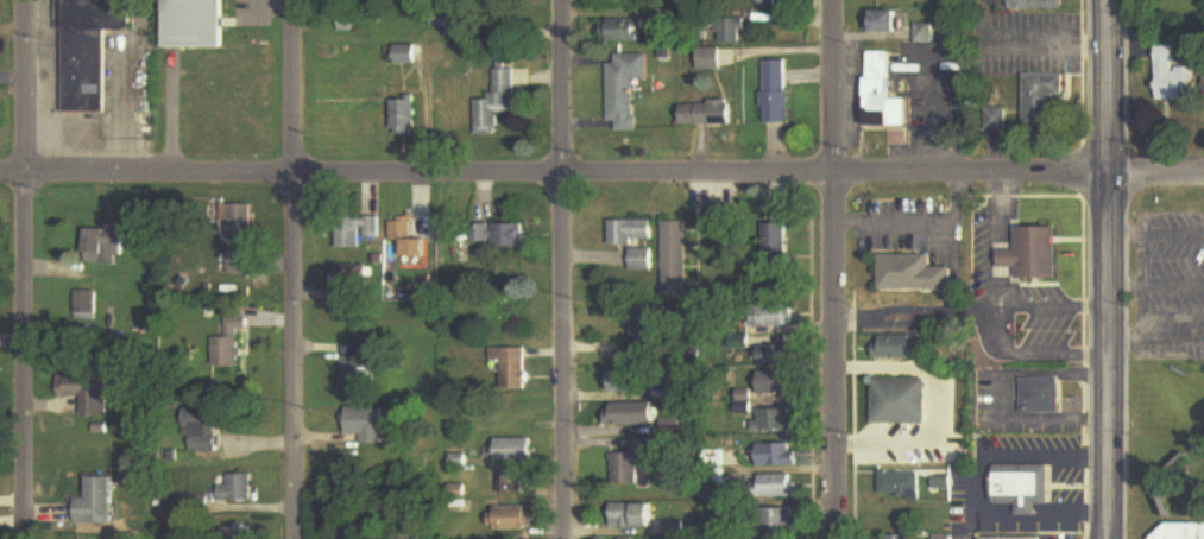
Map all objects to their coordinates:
building: (770, 4)
building: (1036, 5)
building: (663, 12)
building: (889, 21)
building: (198, 24)
building: (630, 31)
building: (735, 31)
building: (925, 33)
building: (87, 55)
building: (711, 59)
building: (1172, 77)
building: (628, 89)
building: (777, 93)
building: (883, 94)
building: (1041, 102)
building: (498, 103)
building: (711, 115)
building: (406, 116)
road: (601, 179)
road: (912, 218)
building: (242, 222)
building: (359, 232)
building: (506, 235)
building: (405, 240)
building: (780, 241)
road: (997, 241)
building: (636, 242)
building: (106, 246)
building: (1034, 254)
building: (675, 259)
building: (247, 264)
road: (25, 268)
road: (1108, 268)
road: (295, 269)
road: (565, 269)
road: (836, 269)
building: (915, 273)
building: (353, 278)
road: (1053, 304)
building: (86, 306)
road: (918, 311)
building: (776, 317)
building: (643, 338)
building: (229, 345)
building: (907, 347)
building: (778, 355)
road: (1032, 355)
road: (919, 362)
building: (357, 363)
building: (513, 367)
building: (623, 381)
building: (780, 383)
building: (89, 389)
building: (1041, 395)
building: (904, 401)
building: (631, 414)
building: (776, 419)
building: (370, 424)
building: (670, 426)
building: (207, 432)
road: (889, 433)
building: (515, 450)
building: (781, 455)
road: (1046, 455)
building: (630, 465)
building: (518, 482)
building: (904, 484)
building: (782, 486)
building: (1025, 487)
building: (239, 488)
building: (99, 505)
building: (632, 516)
road: (1017, 518)
building: (516, 519)
building: (788, 520)
building: (1178, 532)
building: (235, 533)
building: (904, 538)
building: (946, 538)
building: (1003, 538)

